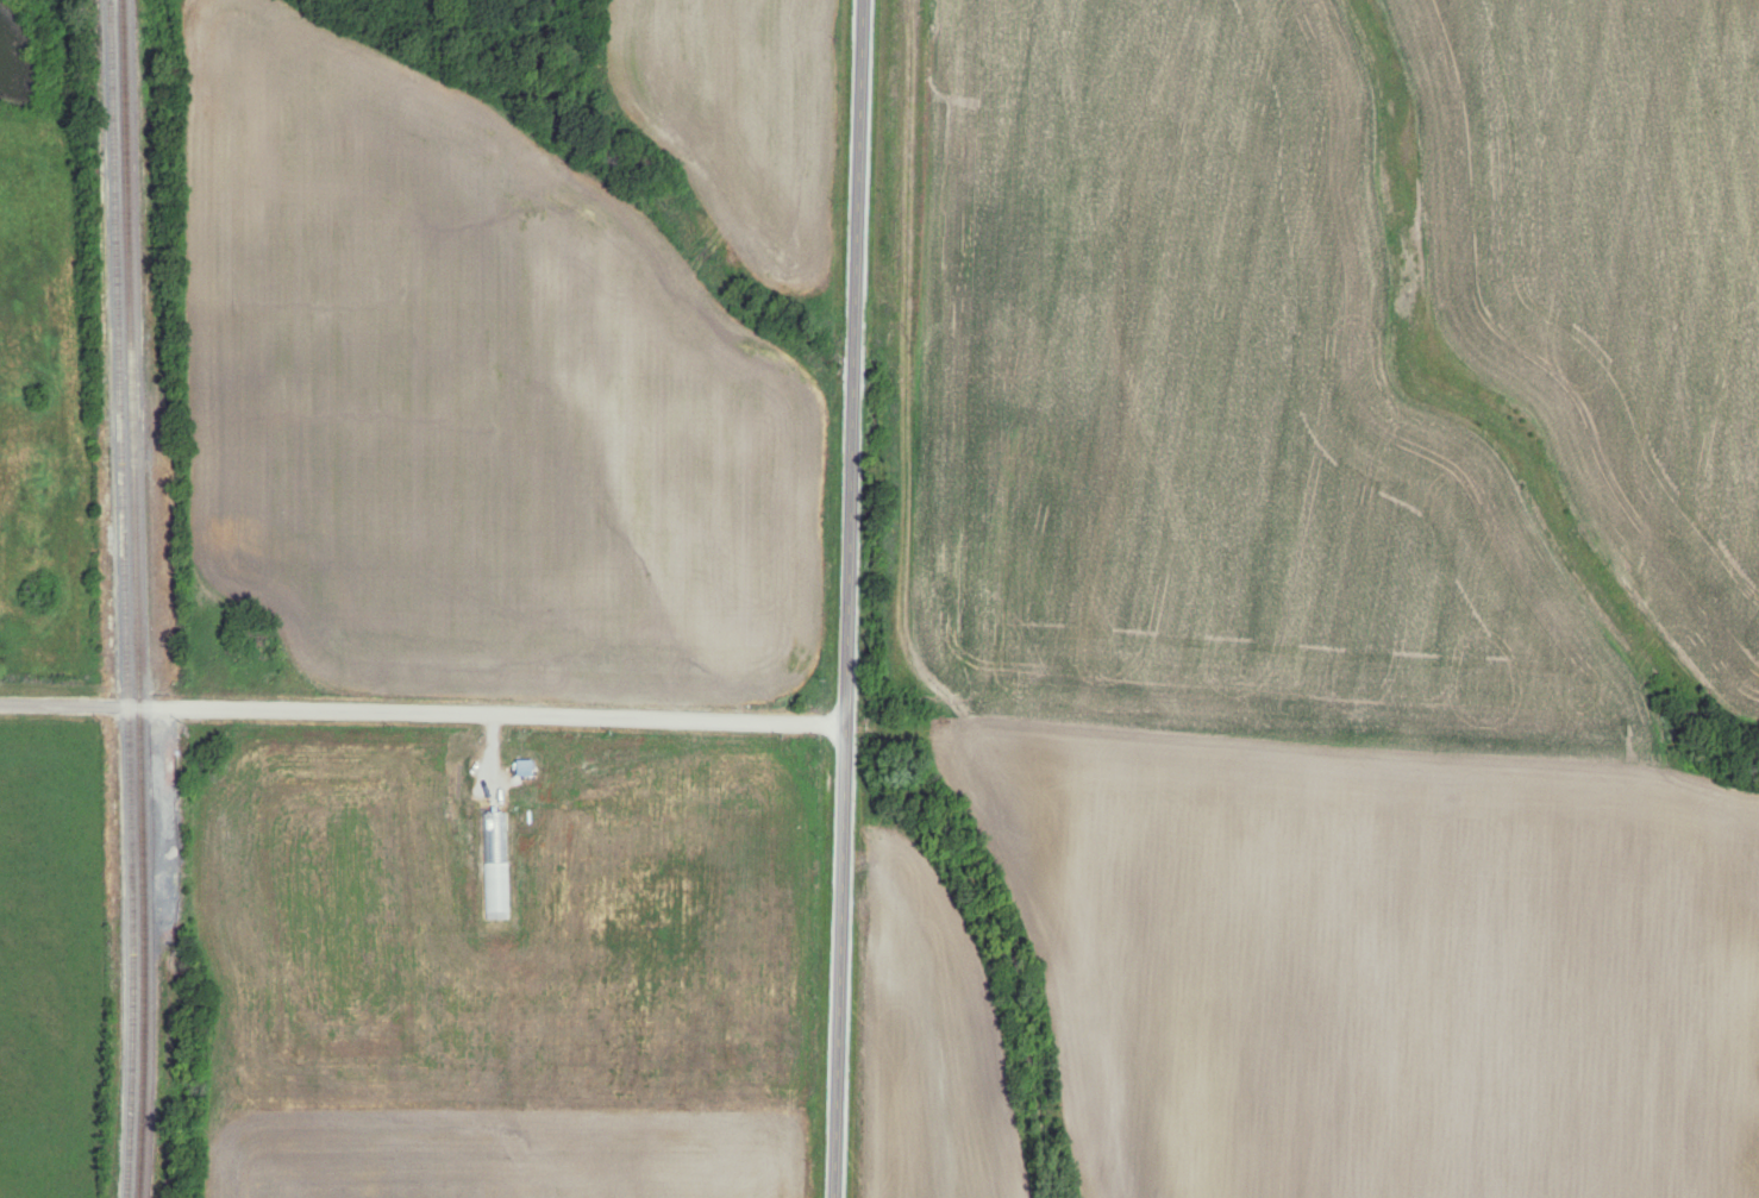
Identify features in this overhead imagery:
railway: (121, 598)
railway: (134, 598)
road: (849, 598)
road: (421, 715)

